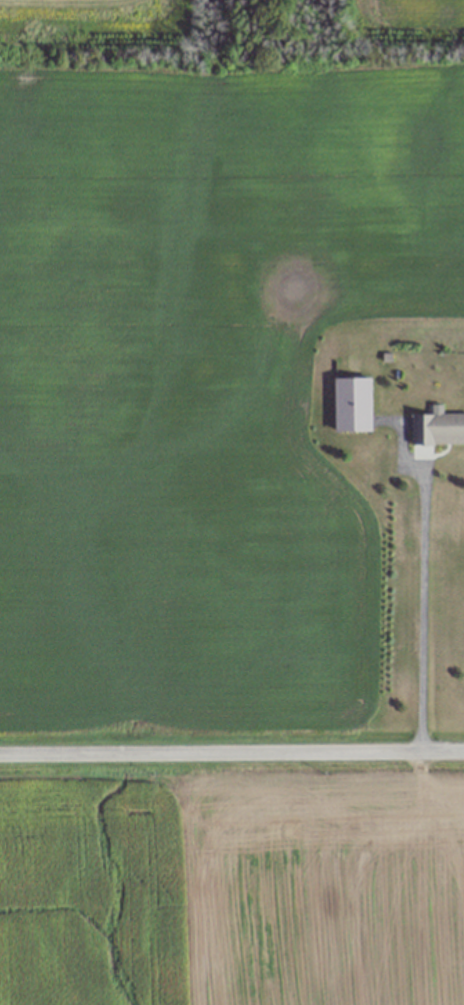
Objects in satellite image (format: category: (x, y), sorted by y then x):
road: (64, 2)
building: (352, 404)
building: (437, 428)
road: (420, 603)
road: (231, 753)
crop: (232, 882)

